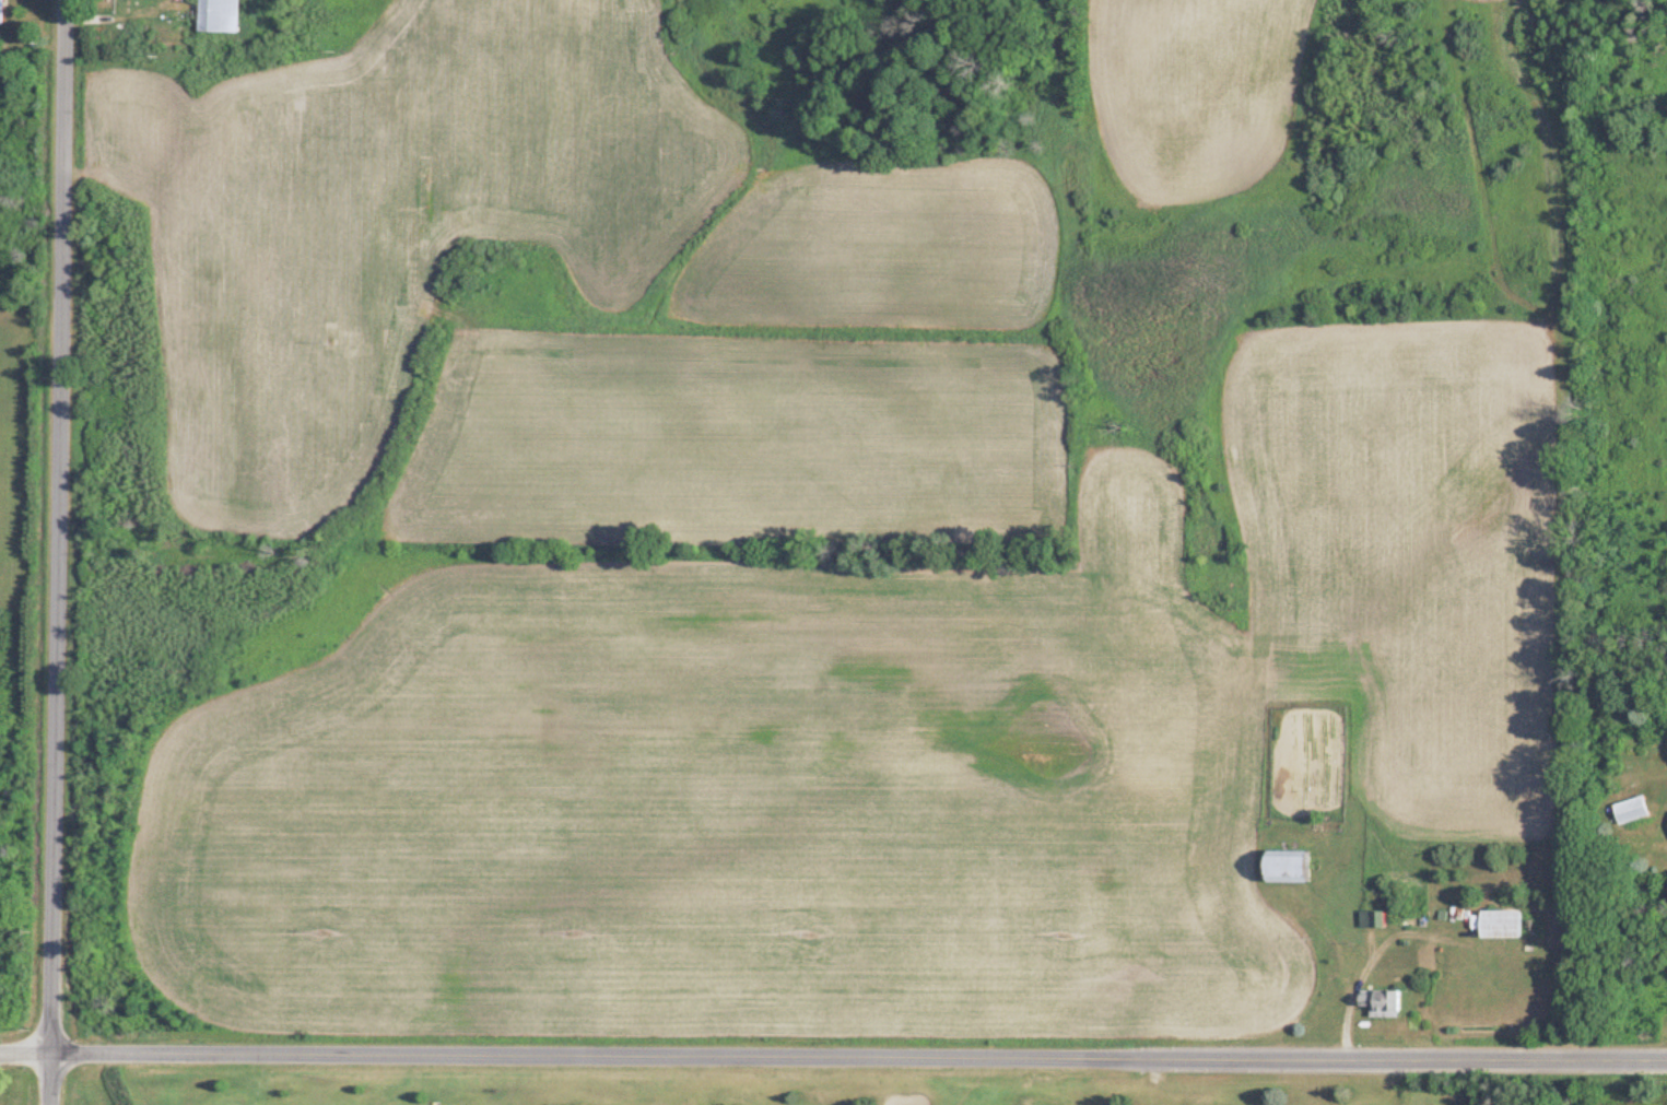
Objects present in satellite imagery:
building: (215, 16)
road: (60, 552)
building: (1280, 868)
building: (1363, 920)
building: (1495, 926)
building: (1376, 1004)
road: (833, 1058)
park: (802, 1091)

